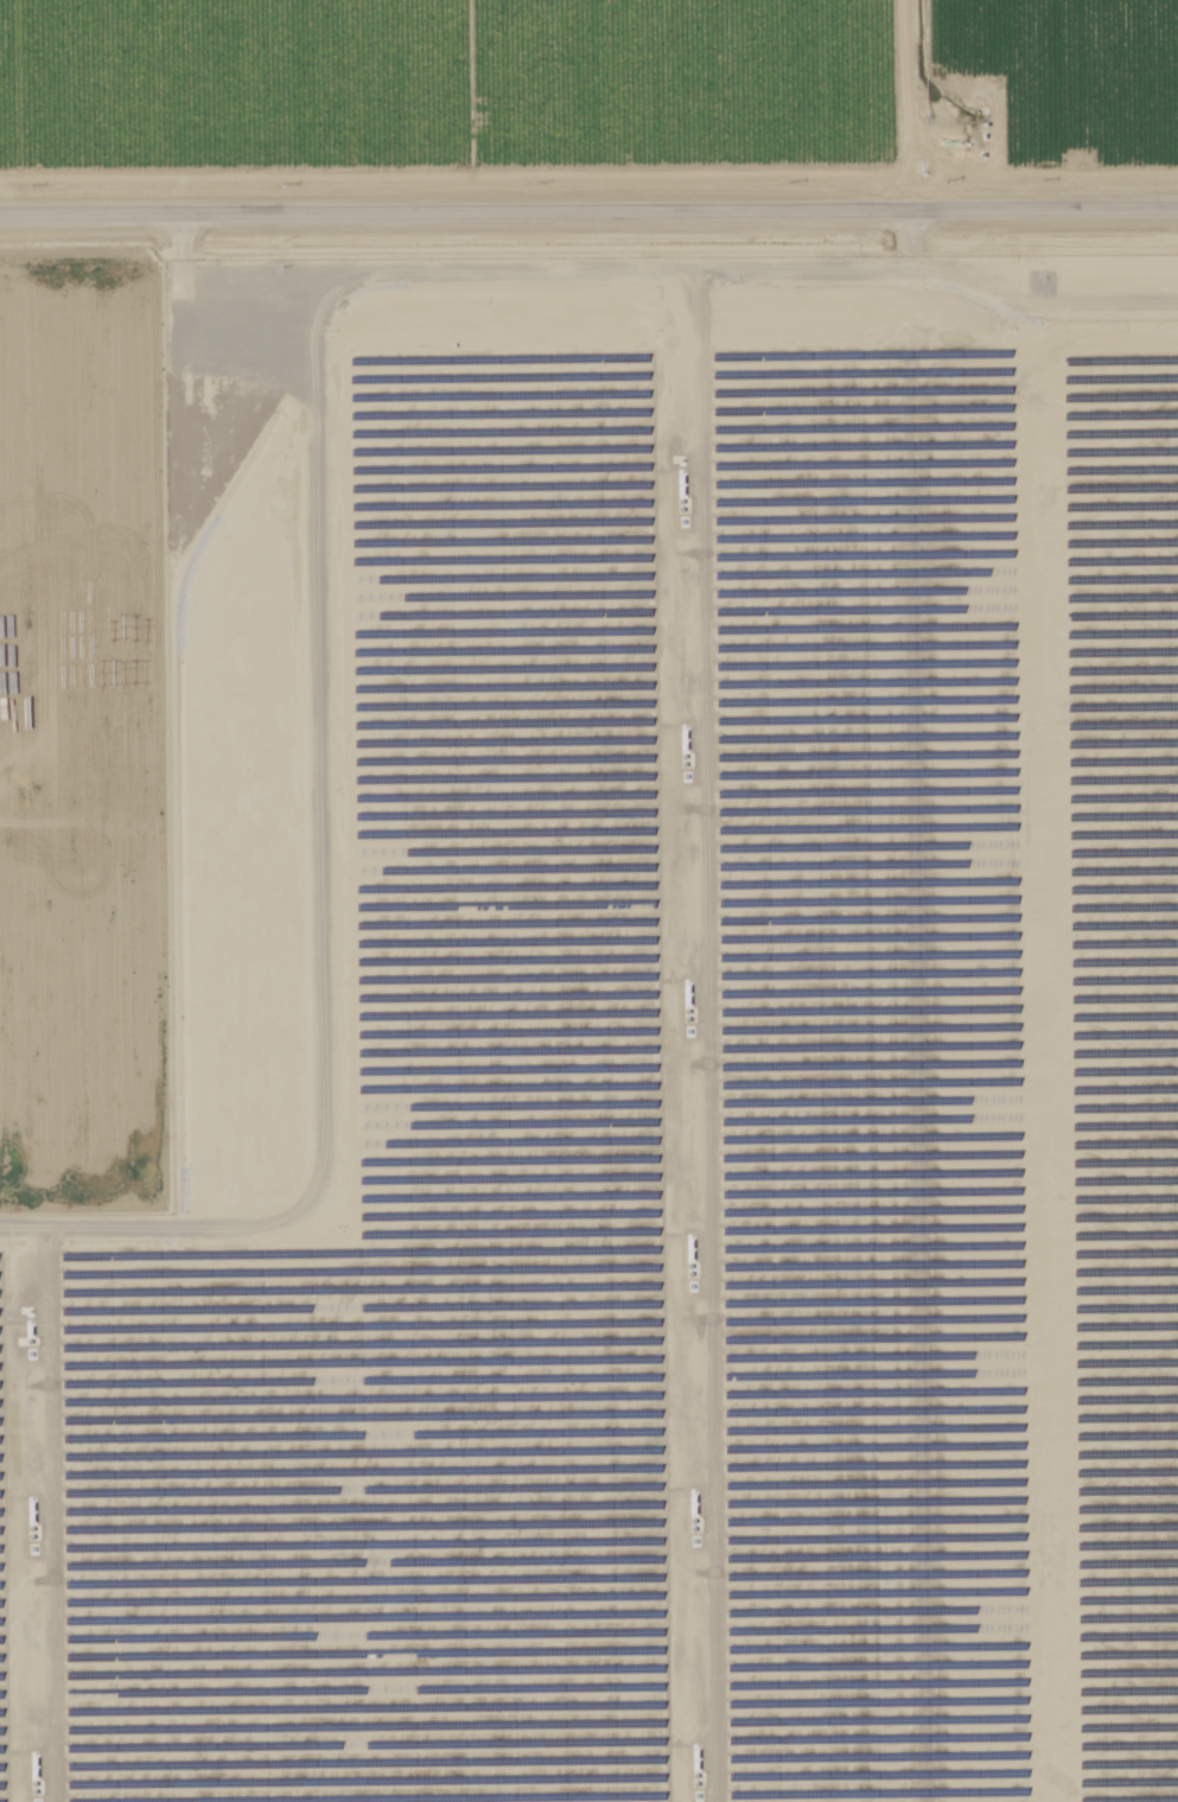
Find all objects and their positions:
crop: (585, 95)
road: (588, 223)
solar farm: (637, 1062)

